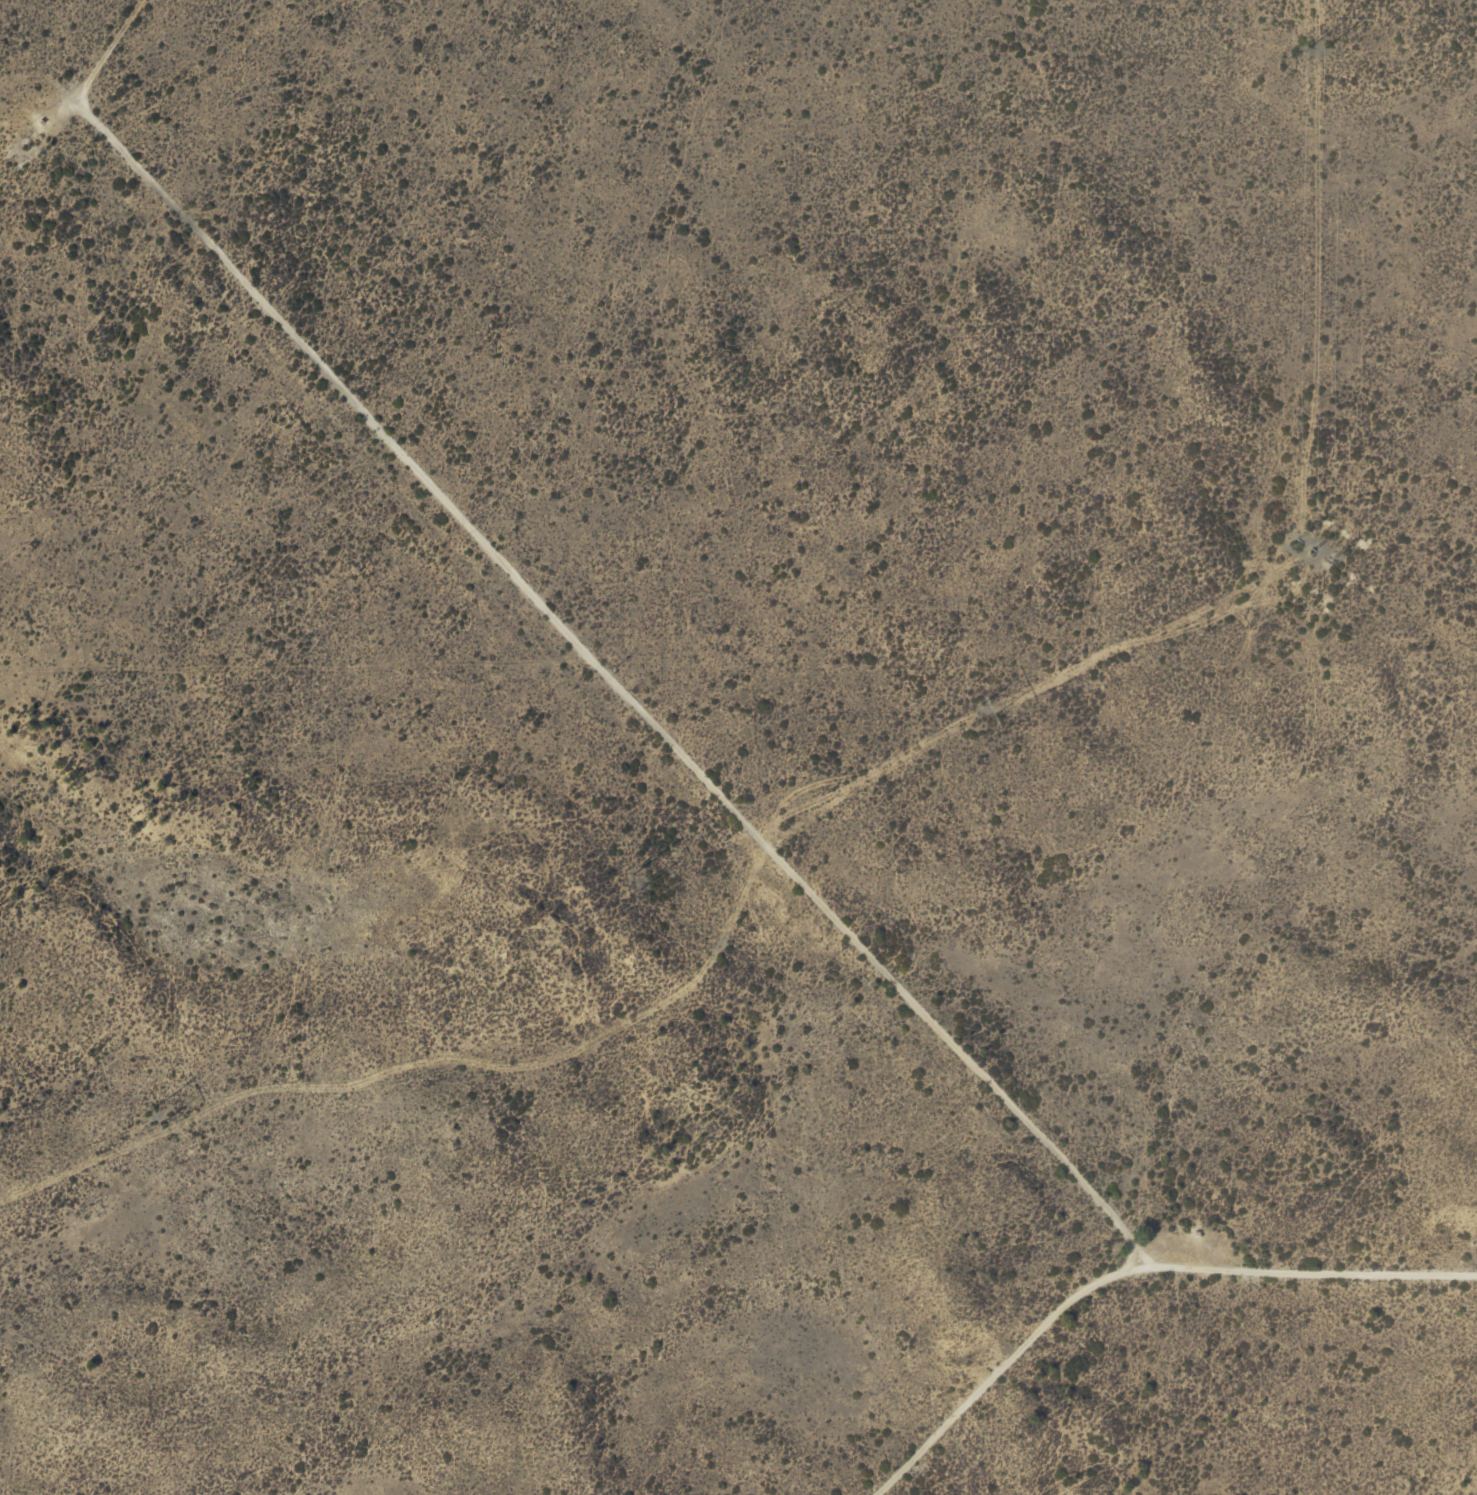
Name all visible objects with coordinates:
power tower: (1314, 48)
power tower: (1312, 550)
power tower: (986, 709)
power tower: (637, 881)
power tower: (154, 1115)

